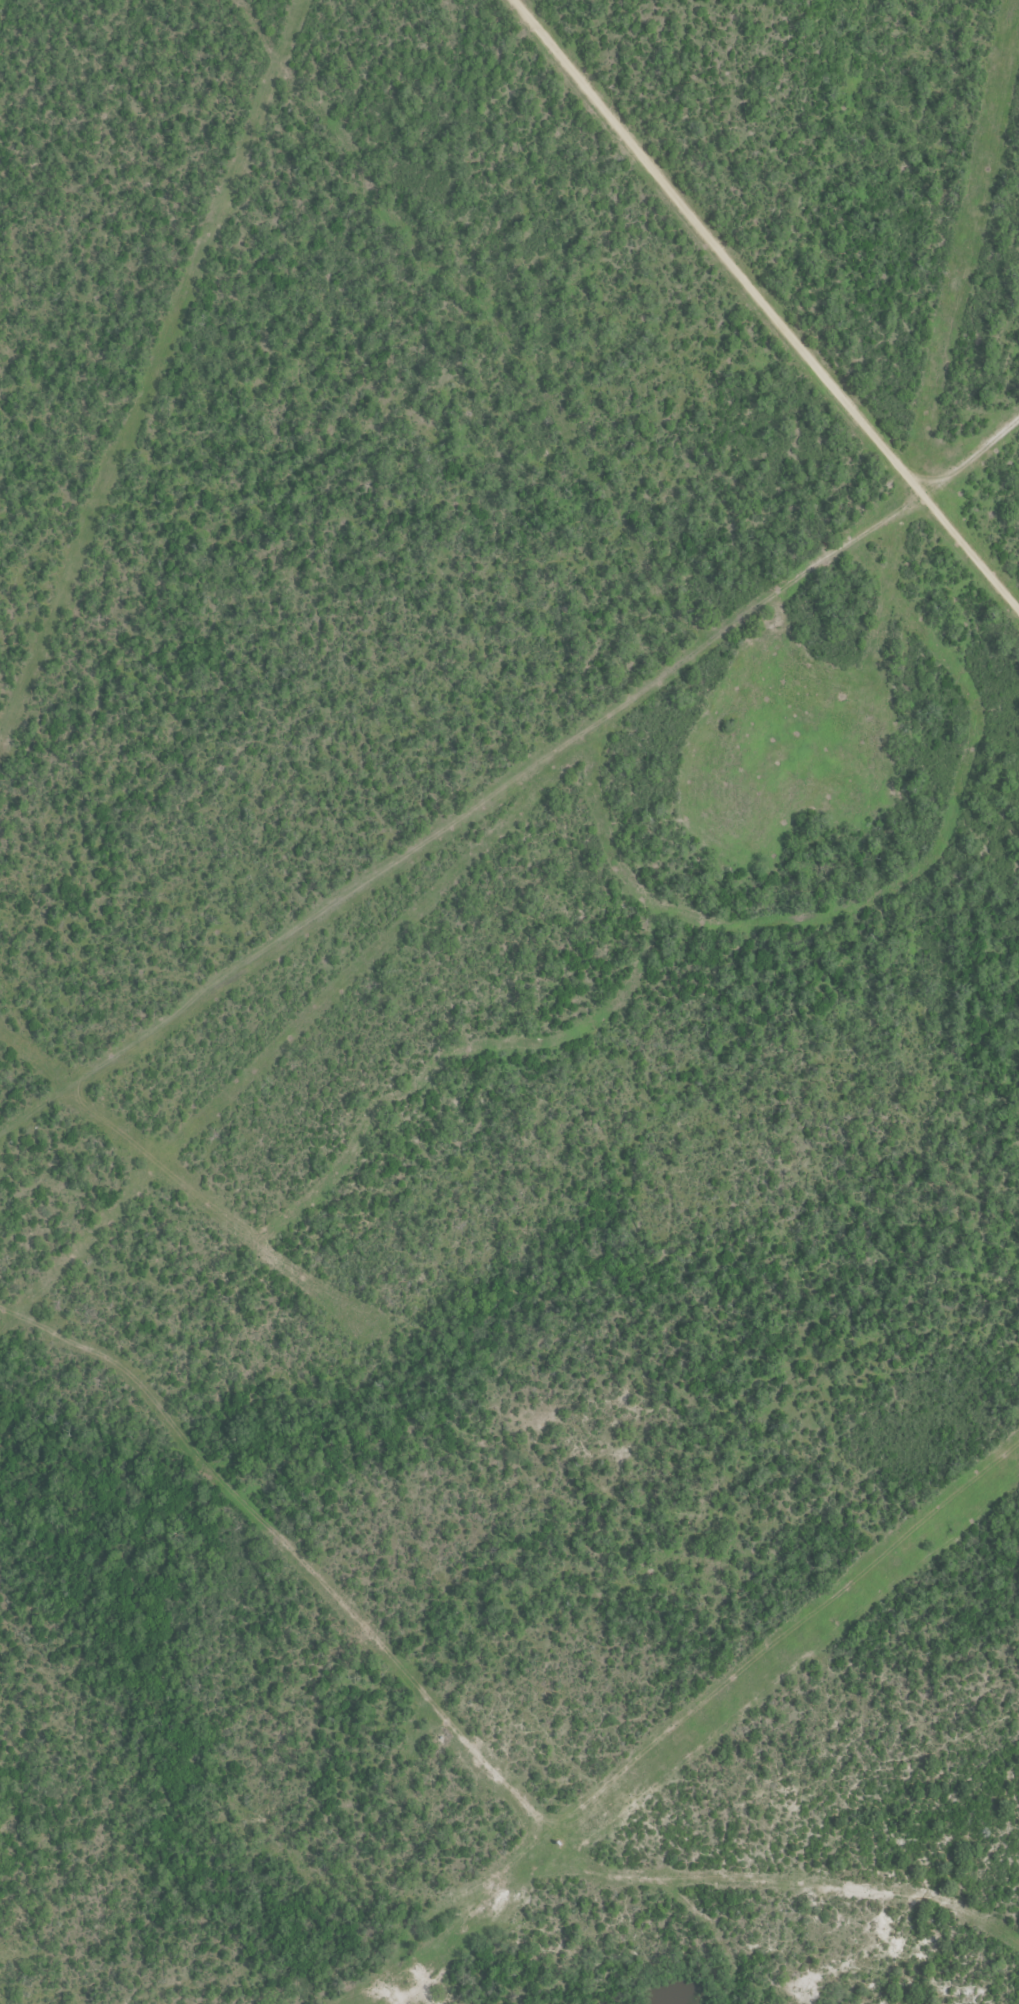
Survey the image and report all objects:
road: (770, 295)

